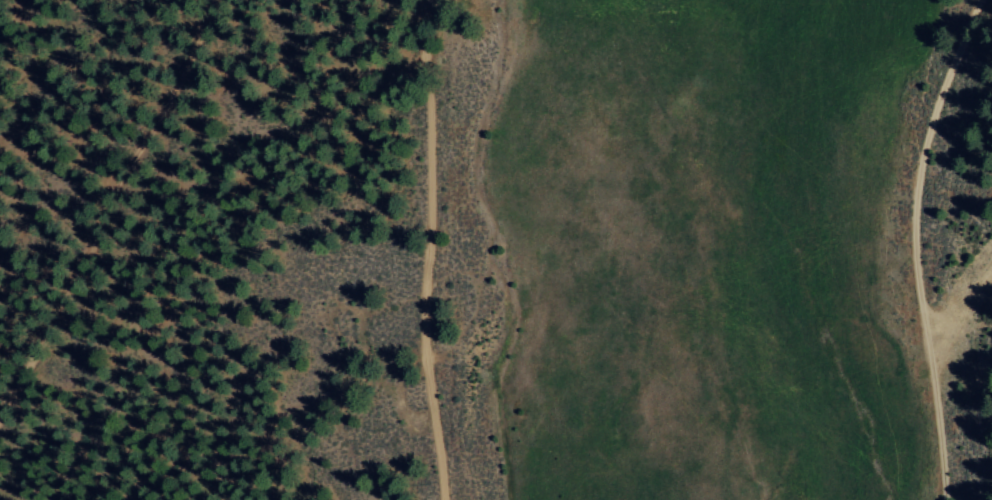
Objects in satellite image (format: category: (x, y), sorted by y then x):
road: (458, 244)
road: (930, 248)

